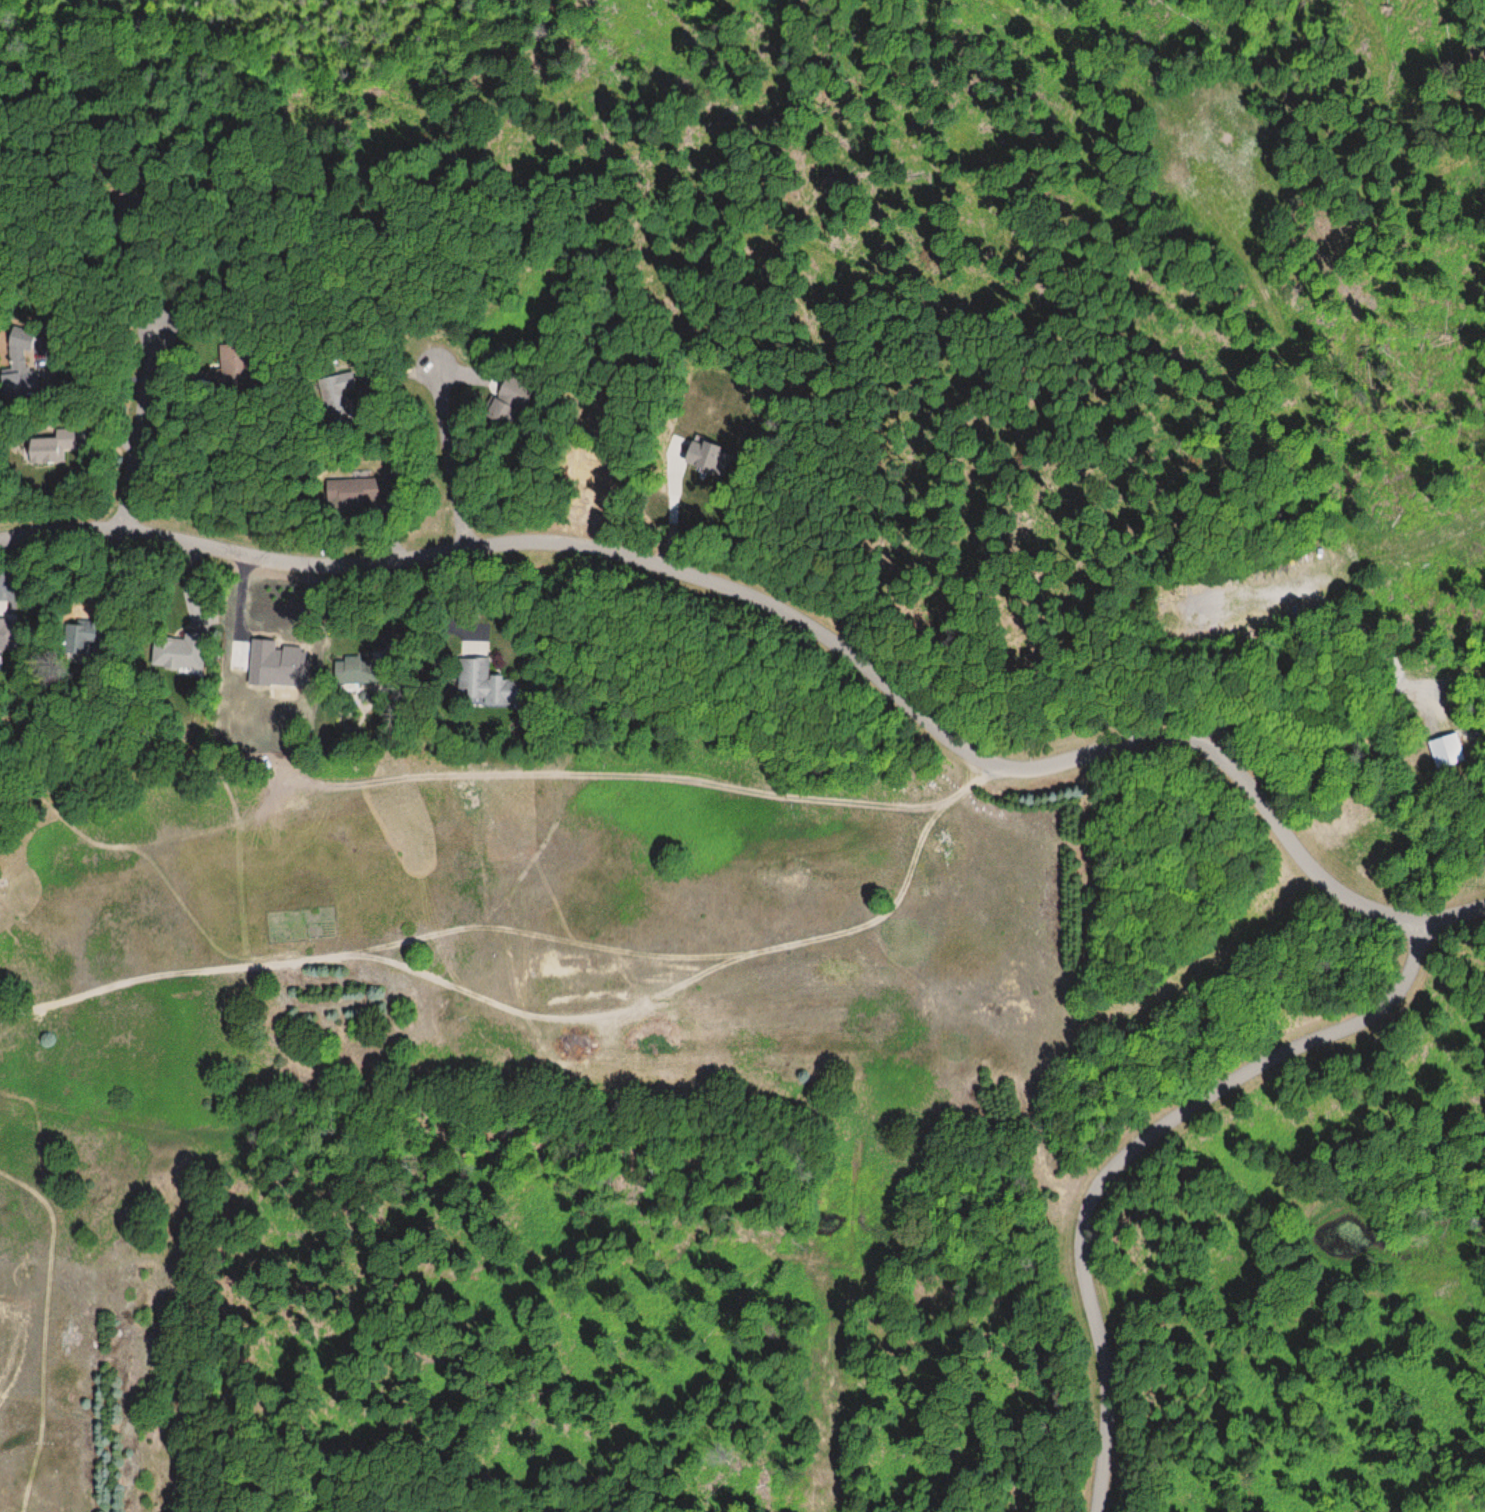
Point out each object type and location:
building: (26, 383)
road: (136, 435)
building: (48, 450)
road: (453, 453)
road: (530, 541)
building: (8, 635)
building: (77, 641)
building: (167, 654)
building: (480, 682)
road: (1242, 712)
building: (1447, 751)
road: (1293, 845)
road: (1158, 1128)

